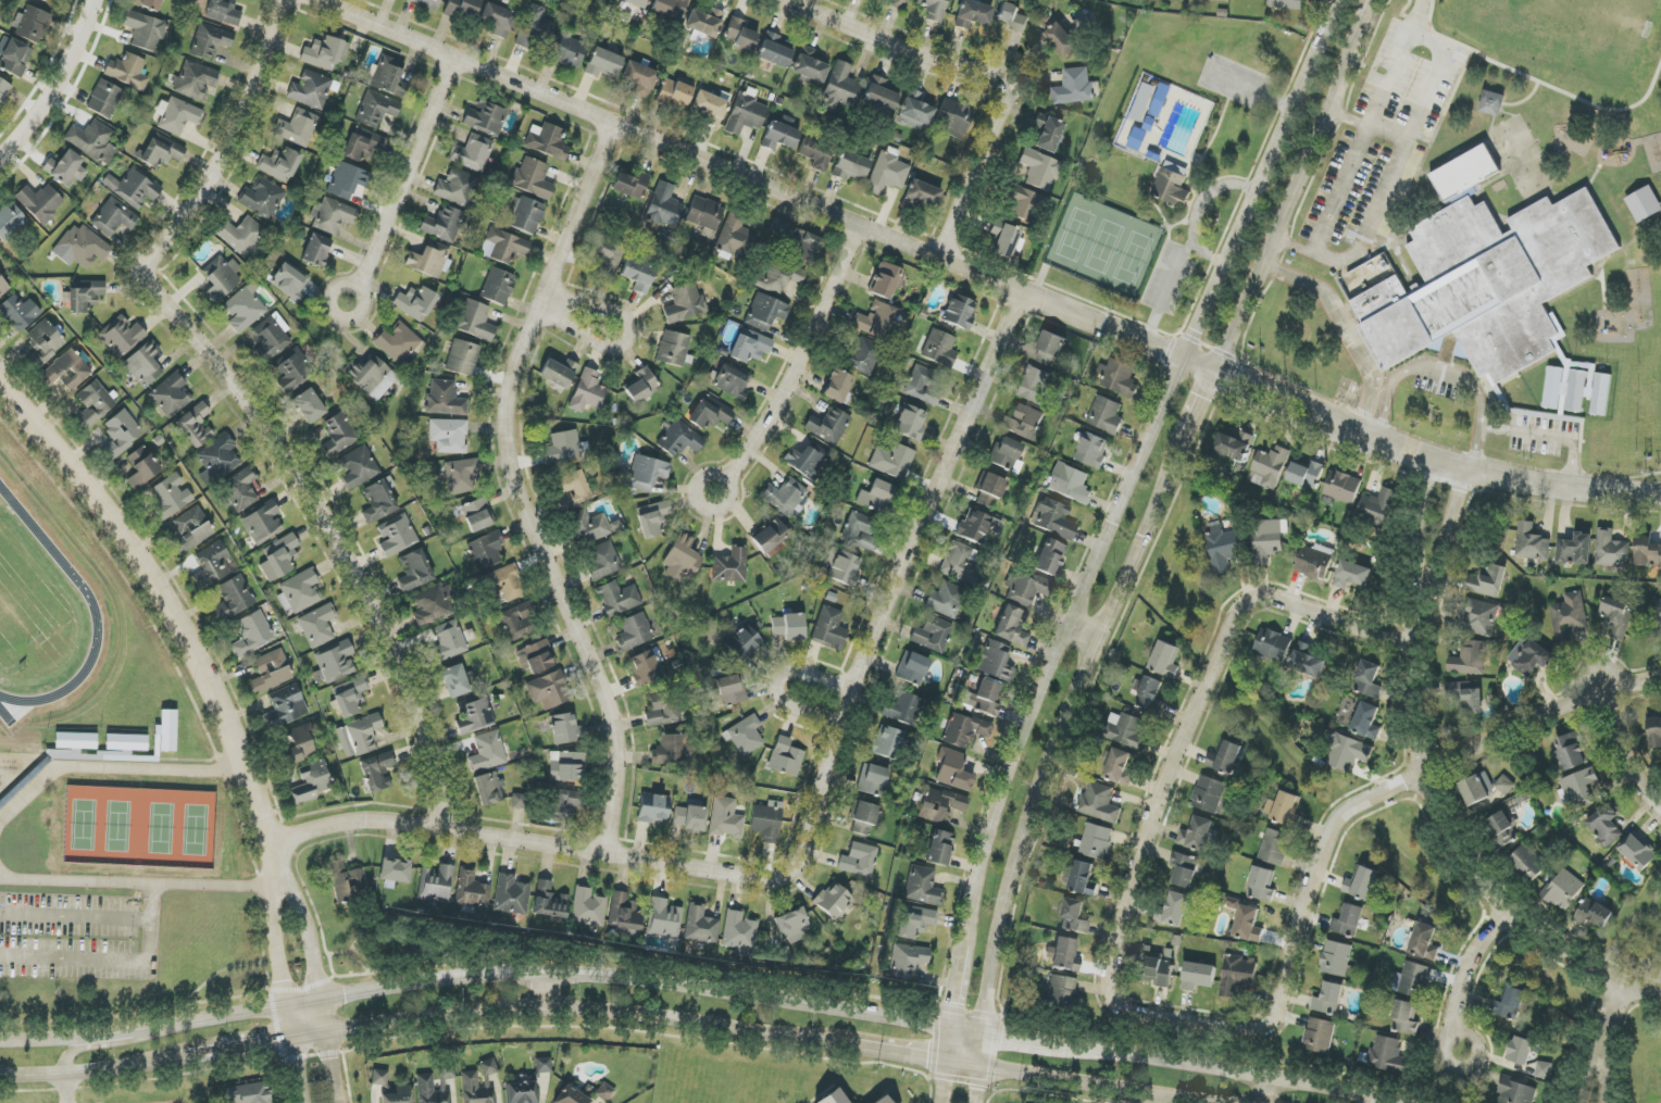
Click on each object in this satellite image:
building: (43, 0)
building: (1177, 0)
building: (1214, 0)
building: (636, 2)
building: (148, 3)
building: (427, 3)
building: (898, 3)
building: (1287, 4)
building: (670, 8)
building: (463, 9)
building: (934, 9)
building: (223, 12)
building: (973, 14)
building: (1011, 16)
road: (1373, 16)
building: (498, 20)
building: (703, 22)
building: (30, 25)
building: (534, 29)
building: (145, 30)
building: (740, 35)
building: (1059, 40)
building: (210, 41)
park: (1564, 46)
building: (567, 51)
building: (774, 51)
building: (325, 53)
building: (14, 57)
building: (603, 63)
building: (810, 65)
road: (1437, 65)
road: (987, 68)
building: (127, 72)
building: (388, 76)
building: (639, 78)
building: (195, 80)
road: (53, 82)
building: (1074, 87)
building: (839, 88)
building: (3, 90)
building: (310, 90)
building: (674, 95)
building: (881, 95)
building: (104, 99)
building: (1142, 102)
building: (1493, 103)
building: (710, 106)
building: (376, 109)
building: (915, 111)
building: (746, 114)
building: (178, 116)
building: (486, 117)
building: (953, 118)
building: (296, 127)
building: (1047, 133)
building: (779, 136)
building: (92, 141)
building: (547, 141)
building: (362, 145)
building: (161, 151)
building: (473, 153)
building: (815, 153)
park: (1165, 161)
building: (278, 164)
building: (850, 166)
building: (65, 168)
building: (1039, 170)
road: (409, 172)
building: (887, 173)
building: (533, 178)
building: (347, 180)
building: (1172, 184)
building: (630, 185)
building: (457, 187)
building: (133, 188)
building: (922, 195)
building: (262, 198)
road: (1378, 201)
building: (40, 202)
road: (1294, 203)
building: (1644, 204)
building: (1025, 205)
building: (664, 206)
road: (1197, 209)
building: (704, 213)
building: (524, 214)
building: (333, 216)
building: (114, 217)
building: (10, 221)
building: (444, 224)
building: (778, 227)
building: (734, 235)
building: (243, 237)
building: (1004, 239)
building: (504, 246)
building: (80, 247)
building: (316, 250)
building: (609, 254)
building: (429, 260)
building: (788, 265)
road: (979, 273)
building: (638, 275)
building: (1486, 275)
building: (886, 280)
building: (289, 283)
road: (345, 283)
building: (3, 286)
building: (497, 286)
road: (1165, 290)
building: (85, 296)
building: (415, 303)
building: (684, 303)
building: (245, 309)
building: (765, 312)
building: (959, 312)
building: (18, 313)
building: (475, 321)
building: (875, 321)
road: (1345, 329)
road: (628, 335)
building: (121, 336)
building: (272, 336)
building: (45, 340)
building: (398, 342)
building: (750, 346)
building: (673, 349)
building: (939, 349)
building: (1050, 349)
building: (864, 355)
road: (804, 356)
building: (462, 358)
building: (145, 364)
building: (66, 371)
building: (294, 372)
building: (559, 373)
building: (371, 376)
building: (1119, 378)
road: (1449, 379)
building: (732, 381)
building: (641, 385)
building: (924, 385)
building: (838, 386)
building: (1037, 387)
building: (1565, 389)
building: (587, 391)
building: (171, 396)
road: (260, 396)
building: (445, 399)
building: (93, 404)
building: (309, 405)
road: (1386, 408)
road: (1203, 410)
building: (709, 414)
building: (1106, 415)
building: (910, 422)
building: (1024, 423)
building: (195, 425)
building: (828, 426)
building: (121, 433)
building: (338, 435)
road: (1546, 435)
building: (448, 436)
building: (678, 439)
building: (1234, 446)
road: (1473, 446)
building: (562, 448)
building: (1092, 450)
building: (1007, 454)
building: (217, 459)
building: (805, 460)
building: (891, 461)
building: (1271, 466)
building: (141, 467)
building: (358, 467)
road: (1137, 467)
building: (647, 473)
building: (460, 475)
road: (714, 475)
building: (1306, 475)
road: (523, 480)
building: (1070, 484)
building: (575, 486)
building: (1342, 487)
building: (240, 490)
building: (989, 490)
building: (170, 497)
building: (876, 497)
building: (786, 498)
building: (567, 500)
building: (378, 501)
building: (1378, 507)
building: (477, 515)
building: (652, 518)
building: (1053, 518)
building: (262, 523)
building: (978, 526)
building: (591, 527)
road: (1416, 527)
building: (191, 530)
building: (859, 531)
road: (1445, 532)
building: (397, 536)
building: (771, 538)
building: (1266, 540)
building: (1531, 543)
building: (1223, 548)
building: (486, 550)
building: (1575, 550)
building: (1611, 550)
building: (1647, 552)
building: (279, 557)
building: (1050, 557)
building: (602, 560)
building: (682, 560)
building: (1314, 562)
building: (960, 563)
building: (211, 565)
building: (730, 566)
building: (841, 567)
building: (414, 572)
building: (1351, 575)
building: (1487, 581)
building: (505, 582)
building: (1025, 587)
building: (299, 592)
track: (95, 594)
building: (617, 598)
building: (233, 599)
building: (945, 600)
road: (170, 603)
building: (430, 606)
stadium: (48, 614)
park: (41, 616)
building: (1477, 616)
building: (1569, 616)
building: (1616, 617)
building: (1659, 617)
building: (519, 622)
building: (317, 626)
building: (788, 627)
building: (1012, 627)
building: (829, 628)
building: (634, 631)
building: (251, 634)
building: (932, 635)
building: (448, 642)
building: (744, 643)
building: (1273, 645)
building: (534, 657)
building: (1533, 657)
building: (1470, 659)
building: (1165, 660)
building: (1308, 661)
building: (335, 662)
building: (996, 662)
building: (646, 667)
building: (912, 668)
building: (271, 672)
building: (1367, 679)
building: (457, 681)
road: (778, 681)
building: (548, 690)
building: (728, 691)
building: (1149, 694)
building: (349, 695)
building: (1465, 695)
building: (984, 699)
building: (285, 706)
building: (663, 709)
building: (902, 709)
building: (475, 716)
building: (1366, 722)
building: (564, 729)
building: (965, 730)
building: (1127, 731)
building: (1654, 731)
road: (1063, 732)
building: (359, 736)
building: (746, 736)
building: (21, 739)
building: (76, 741)
building: (127, 742)
building: (887, 742)
building: (299, 745)
building: (670, 750)
building: (487, 752)
building: (1571, 752)
building: (1348, 753)
building: (73, 754)
road: (1629, 754)
building: (785, 757)
building: (1225, 757)
building: (566, 767)
building: (1119, 767)
road: (114, 768)
building: (952, 770)
building: (376, 772)
building: (872, 780)
road: (1415, 781)
building: (311, 782)
building: (1504, 785)
building: (1477, 788)
building: (1579, 788)
building: (488, 789)
building: (1209, 794)
building: (519, 801)
building: (1099, 803)
building: (564, 805)
building: (941, 805)
road: (1164, 806)
building: (1283, 807)
building: (652, 809)
building: (863, 817)
building: (689, 818)
building: (725, 818)
building: (767, 820)
road: (812, 820)
park: (76, 824)
park: (109, 824)
building: (1604, 825)
park: (155, 827)
park: (188, 827)
building: (1502, 829)
road: (1451, 830)
building: (1196, 835)
building: (1097, 841)
building: (1275, 848)
building: (940, 849)
building: (1638, 852)
building: (859, 860)
building: (1528, 863)
building: (395, 870)
building: (1185, 870)
building: (1083, 879)
building: (347, 881)
road: (146, 882)
building: (1361, 882)
building: (436, 885)
building: (1262, 885)
building: (923, 886)
building: (471, 889)
building: (1563, 890)
building: (511, 895)
road: (152, 900)
building: (833, 900)
building: (549, 901)
building: (587, 907)
building: (1173, 910)
building: (624, 913)
building: (1594, 914)
road: (75, 915)
building: (1074, 916)
building: (664, 919)
building: (1349, 922)
building: (911, 923)
building: (700, 925)
building: (1248, 925)
building: (792, 926)
building: (739, 931)
building: (1424, 942)
building: (1065, 955)
building: (1336, 958)
building: (908, 961)
road: (98, 963)
road: (544, 974)
building: (1237, 975)
building: (1199, 976)
road: (313, 977)
road: (1465, 977)
road: (284, 978)
building: (1413, 980)
road: (954, 987)
road: (1643, 987)
building: (1061, 991)
building: (1328, 999)
building: (1510, 1003)
road: (1616, 1011)
road: (448, 1017)
building: (1404, 1018)
road: (68, 1036)
road: (1001, 1036)
building: (1320, 1036)
road: (91, 1043)
road: (948, 1046)
building: (1521, 1051)
road: (984, 1052)
road: (889, 1054)
building: (1388, 1055)
road: (283, 1058)
building: (488, 1067)
road: (963, 1067)
road: (1225, 1069)
road: (1589, 1069)
building: (1544, 1070)
building: (447, 1071)
road: (1608, 1071)
road: (33, 1078)
building: (379, 1078)
road: (944, 1083)
road: (978, 1086)
road: (1092, 1086)
building: (475, 1088)
road: (67, 1089)
road: (1265, 1090)
building: (429, 1091)
building: (604, 1092)
building: (1515, 1092)
building: (248, 1093)
building: (398, 1095)
building: (571, 1096)
building: (832, 1098)
road: (1153, 1099)
building: (882, 1101)

